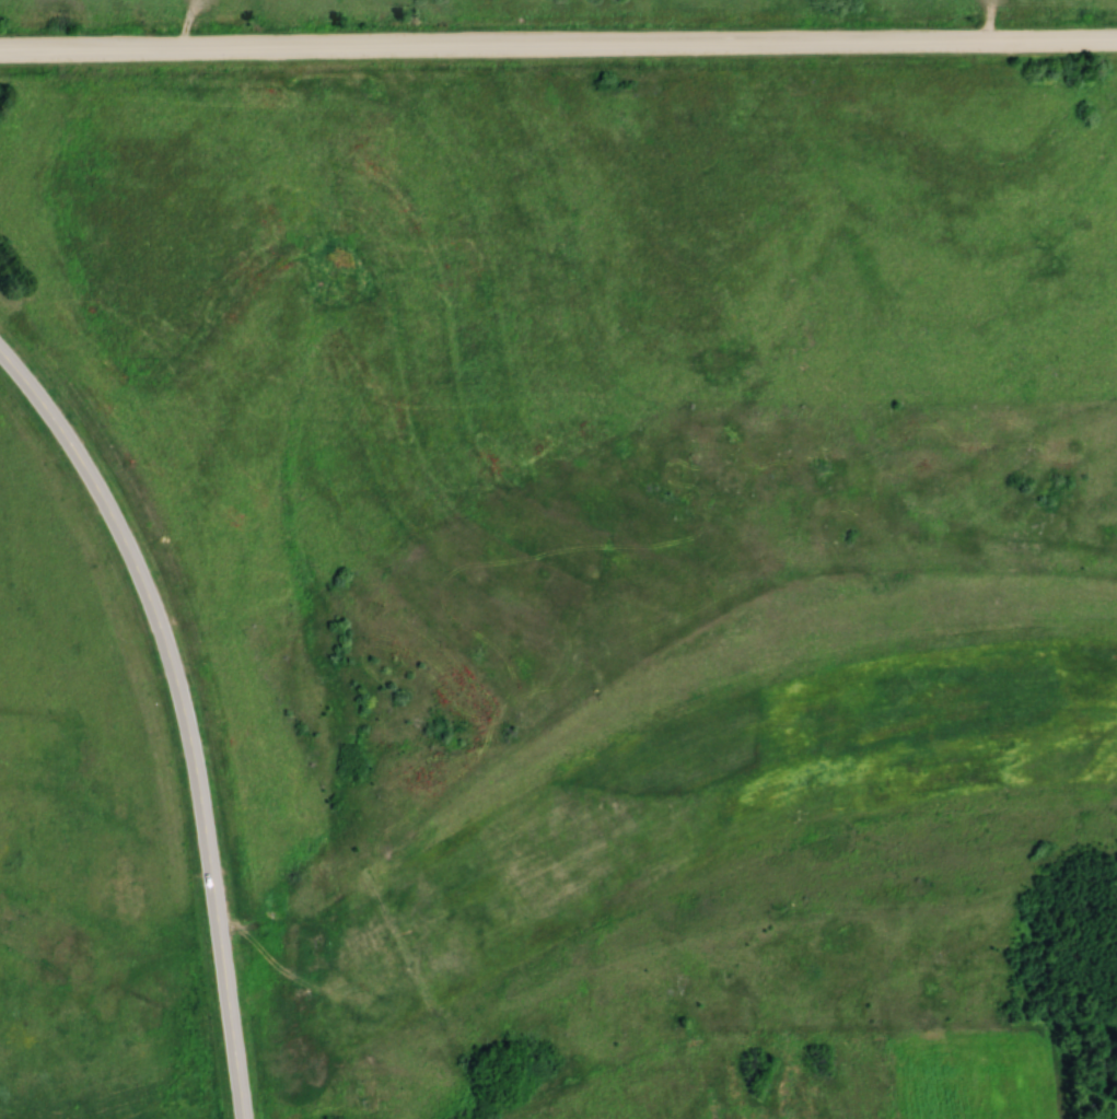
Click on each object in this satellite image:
road: (558, 46)
road: (185, 712)
park: (22, 1118)

